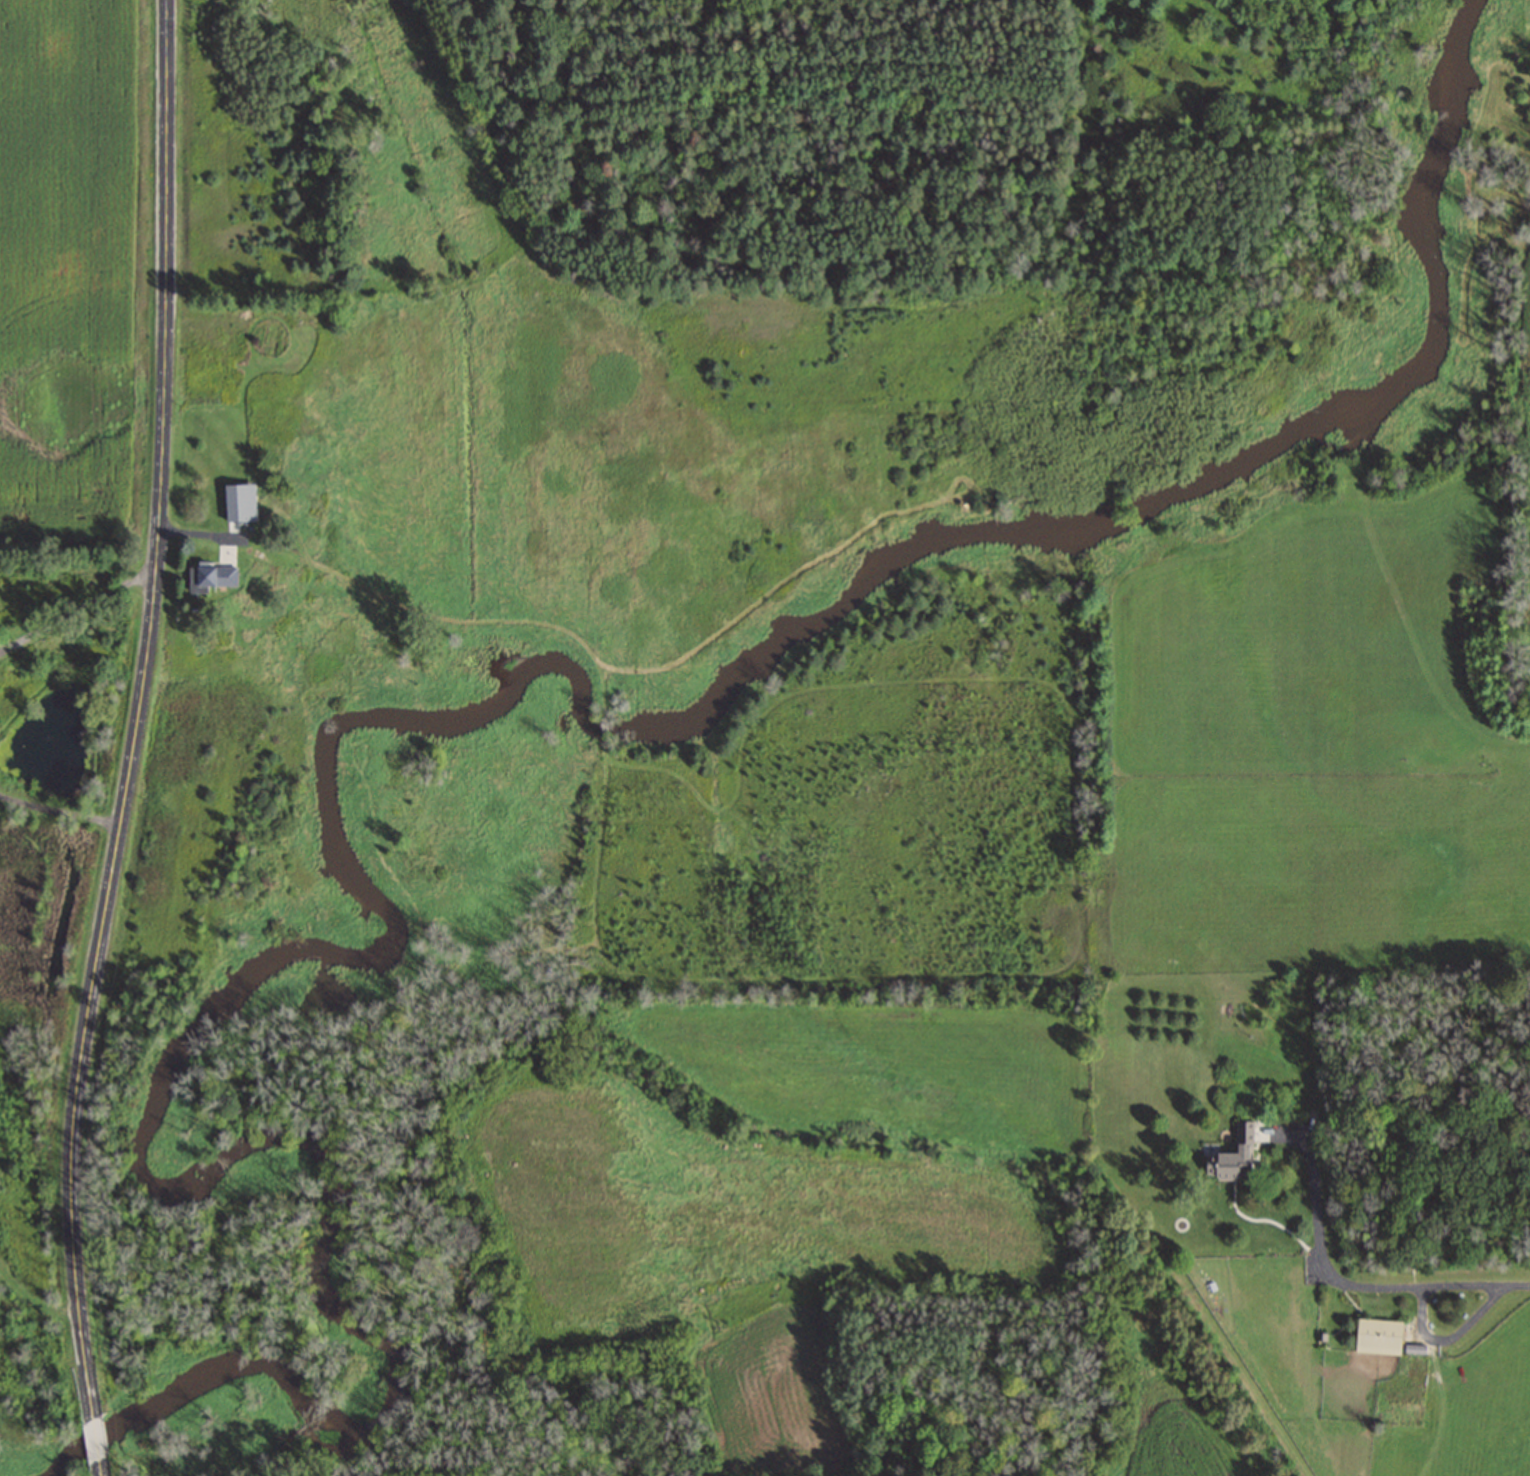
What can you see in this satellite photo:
building: (236, 501)
building: (209, 577)
road: (78, 607)
river: (463, 723)
road: (135, 740)
road: (60, 812)
road: (1356, 1282)
building: (1377, 1336)
river: (17, 1465)

